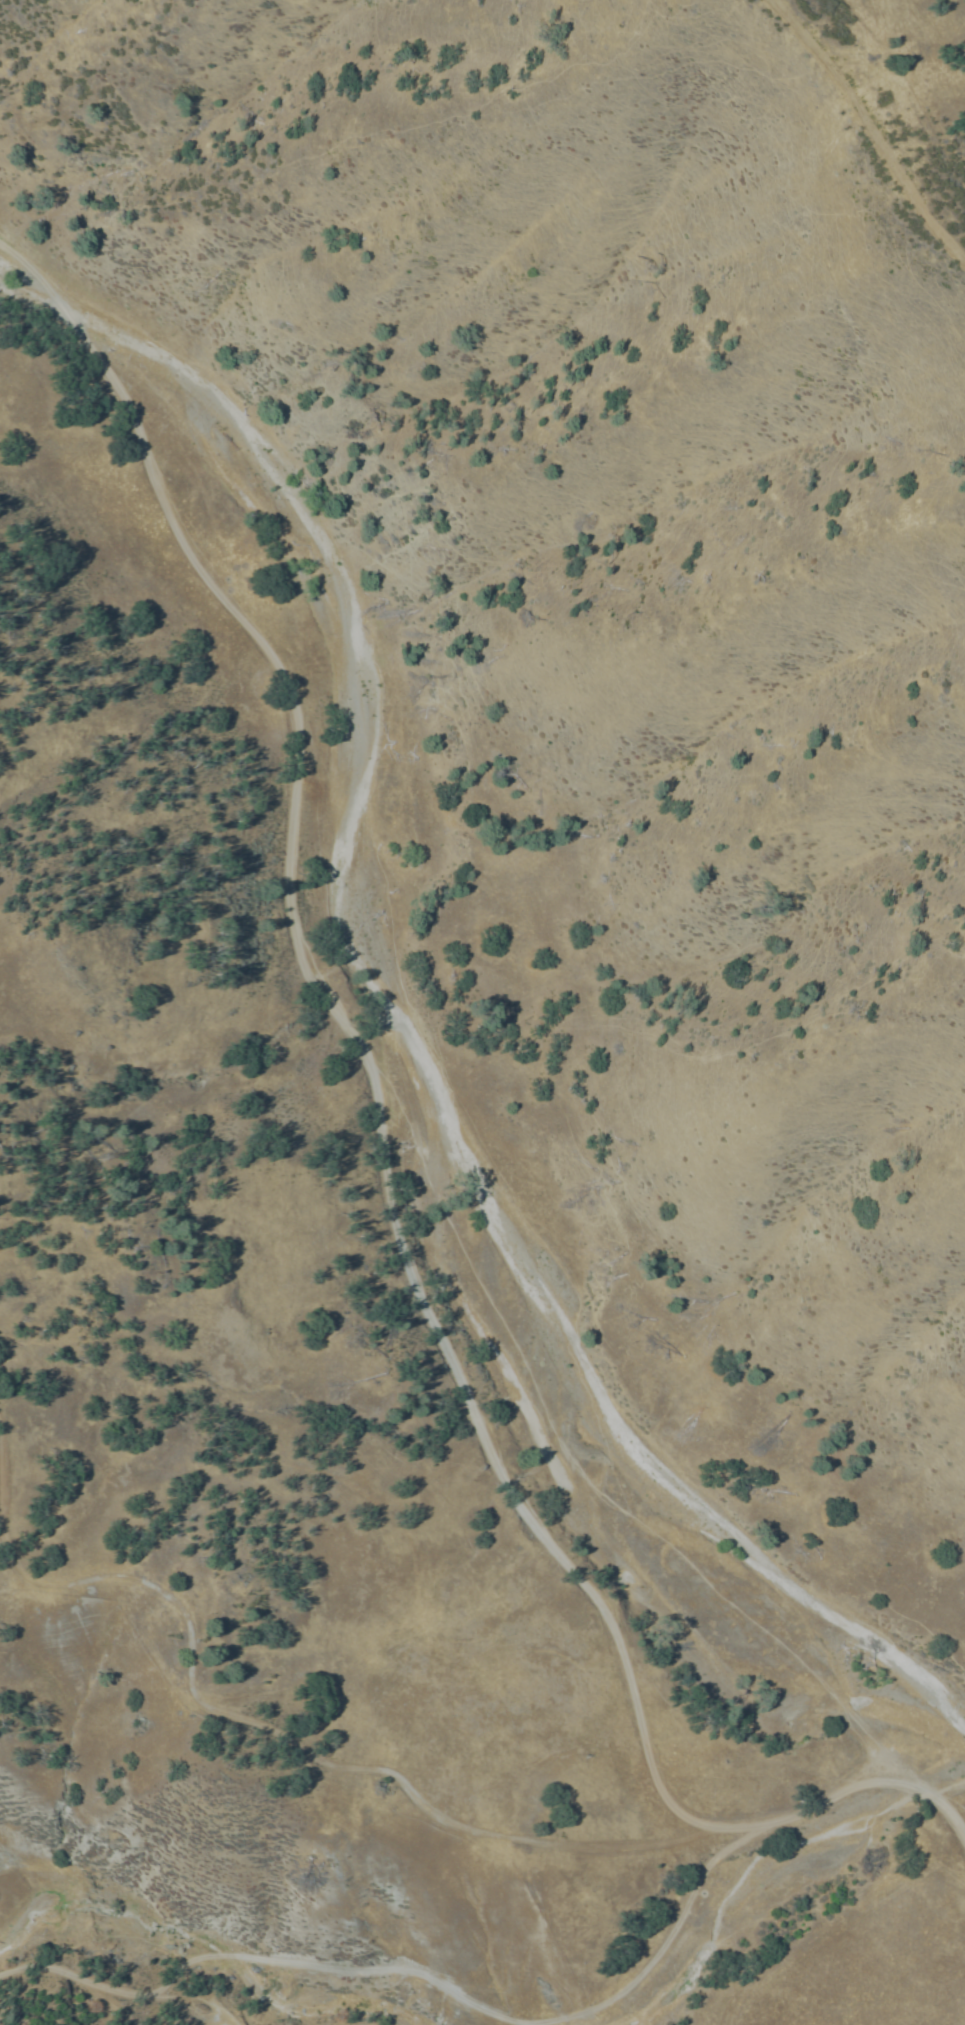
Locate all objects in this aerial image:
road: (352, 1070)
road: (299, 1756)
road: (875, 1787)
road: (421, 1988)
road: (123, 2007)

